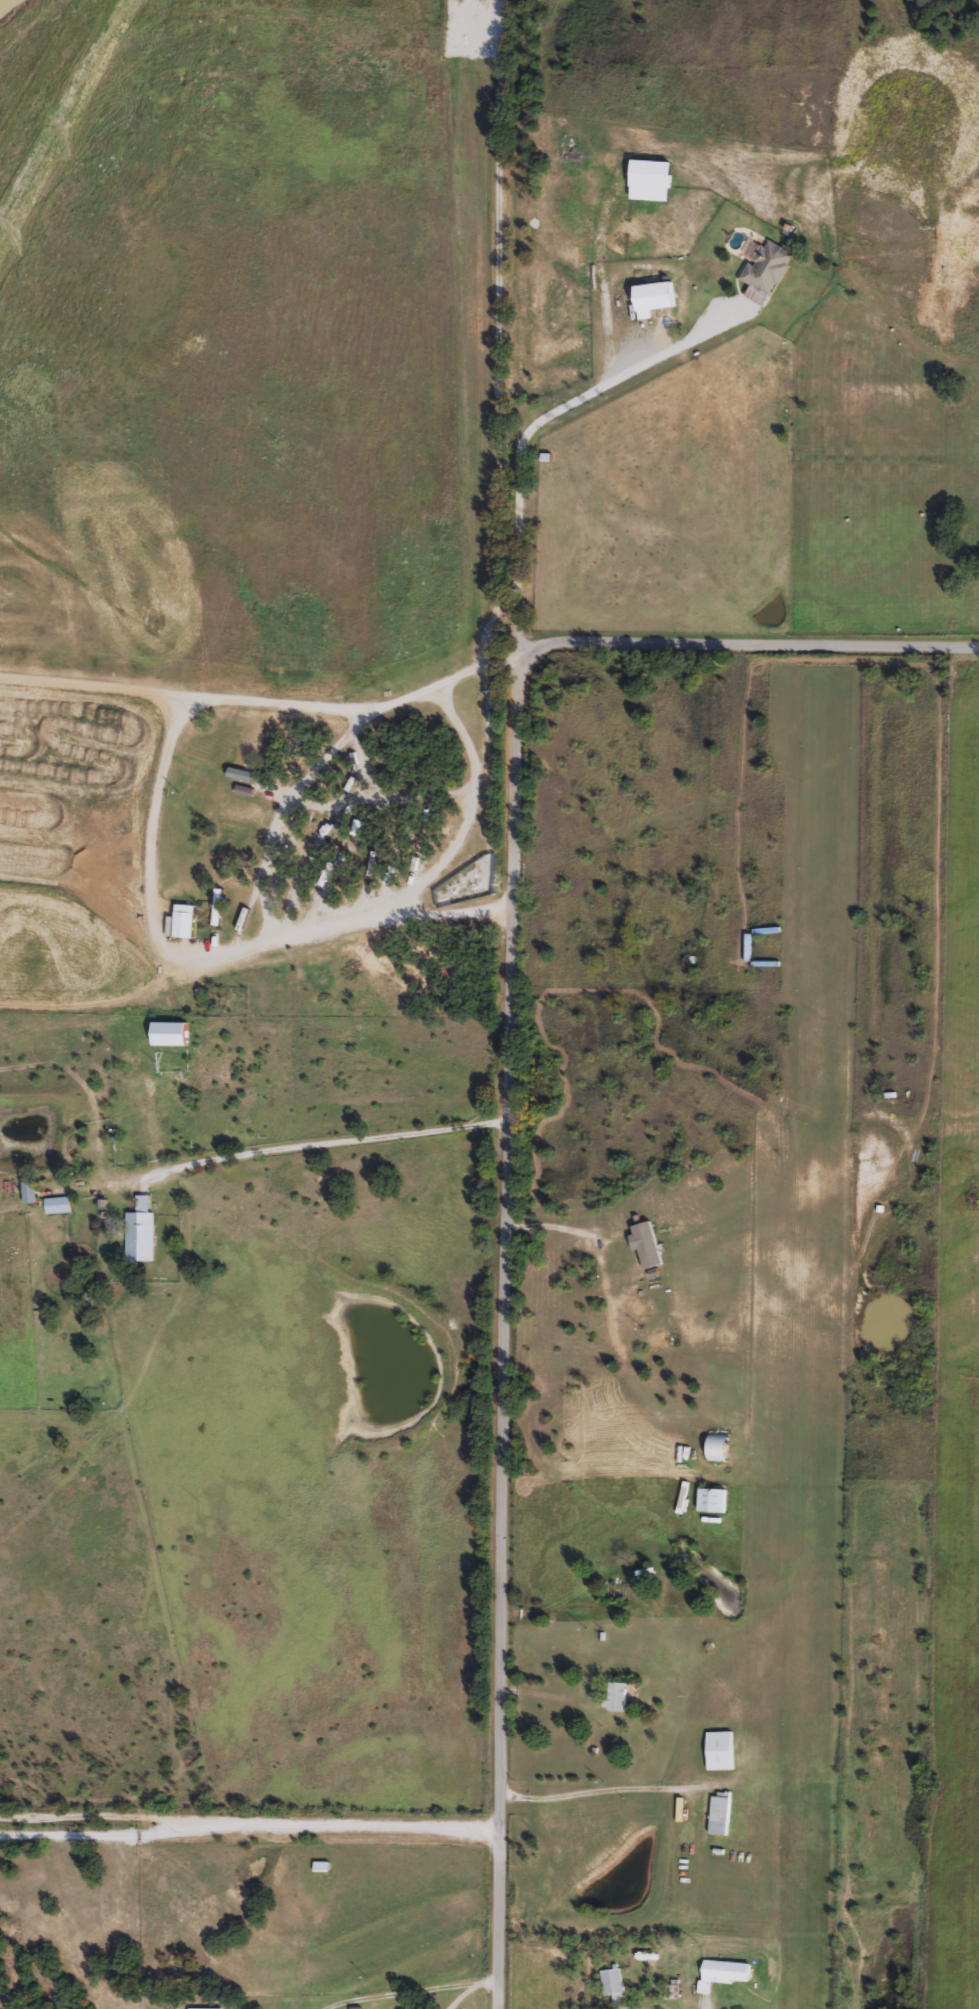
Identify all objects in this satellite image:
building: (648, 179)
building: (765, 266)
building: (649, 297)
building: (750, 356)
road: (528, 432)
road: (106, 686)
road: (460, 738)
road: (457, 795)
road: (279, 813)
road: (150, 824)
building: (217, 906)
building: (166, 1032)
road: (508, 1104)
road: (244, 1154)
building: (30, 1192)
building: (139, 1232)
building: (645, 1244)
building: (87, 1299)
building: (716, 1447)
building: (710, 1499)
building: (615, 1696)
building: (718, 1750)
road: (591, 1791)
building: (718, 1813)
road: (99, 1817)
road: (248, 1825)
building: (725, 1971)
building: (611, 1983)
building: (672, 1988)
road: (411, 1993)
road: (459, 1996)

